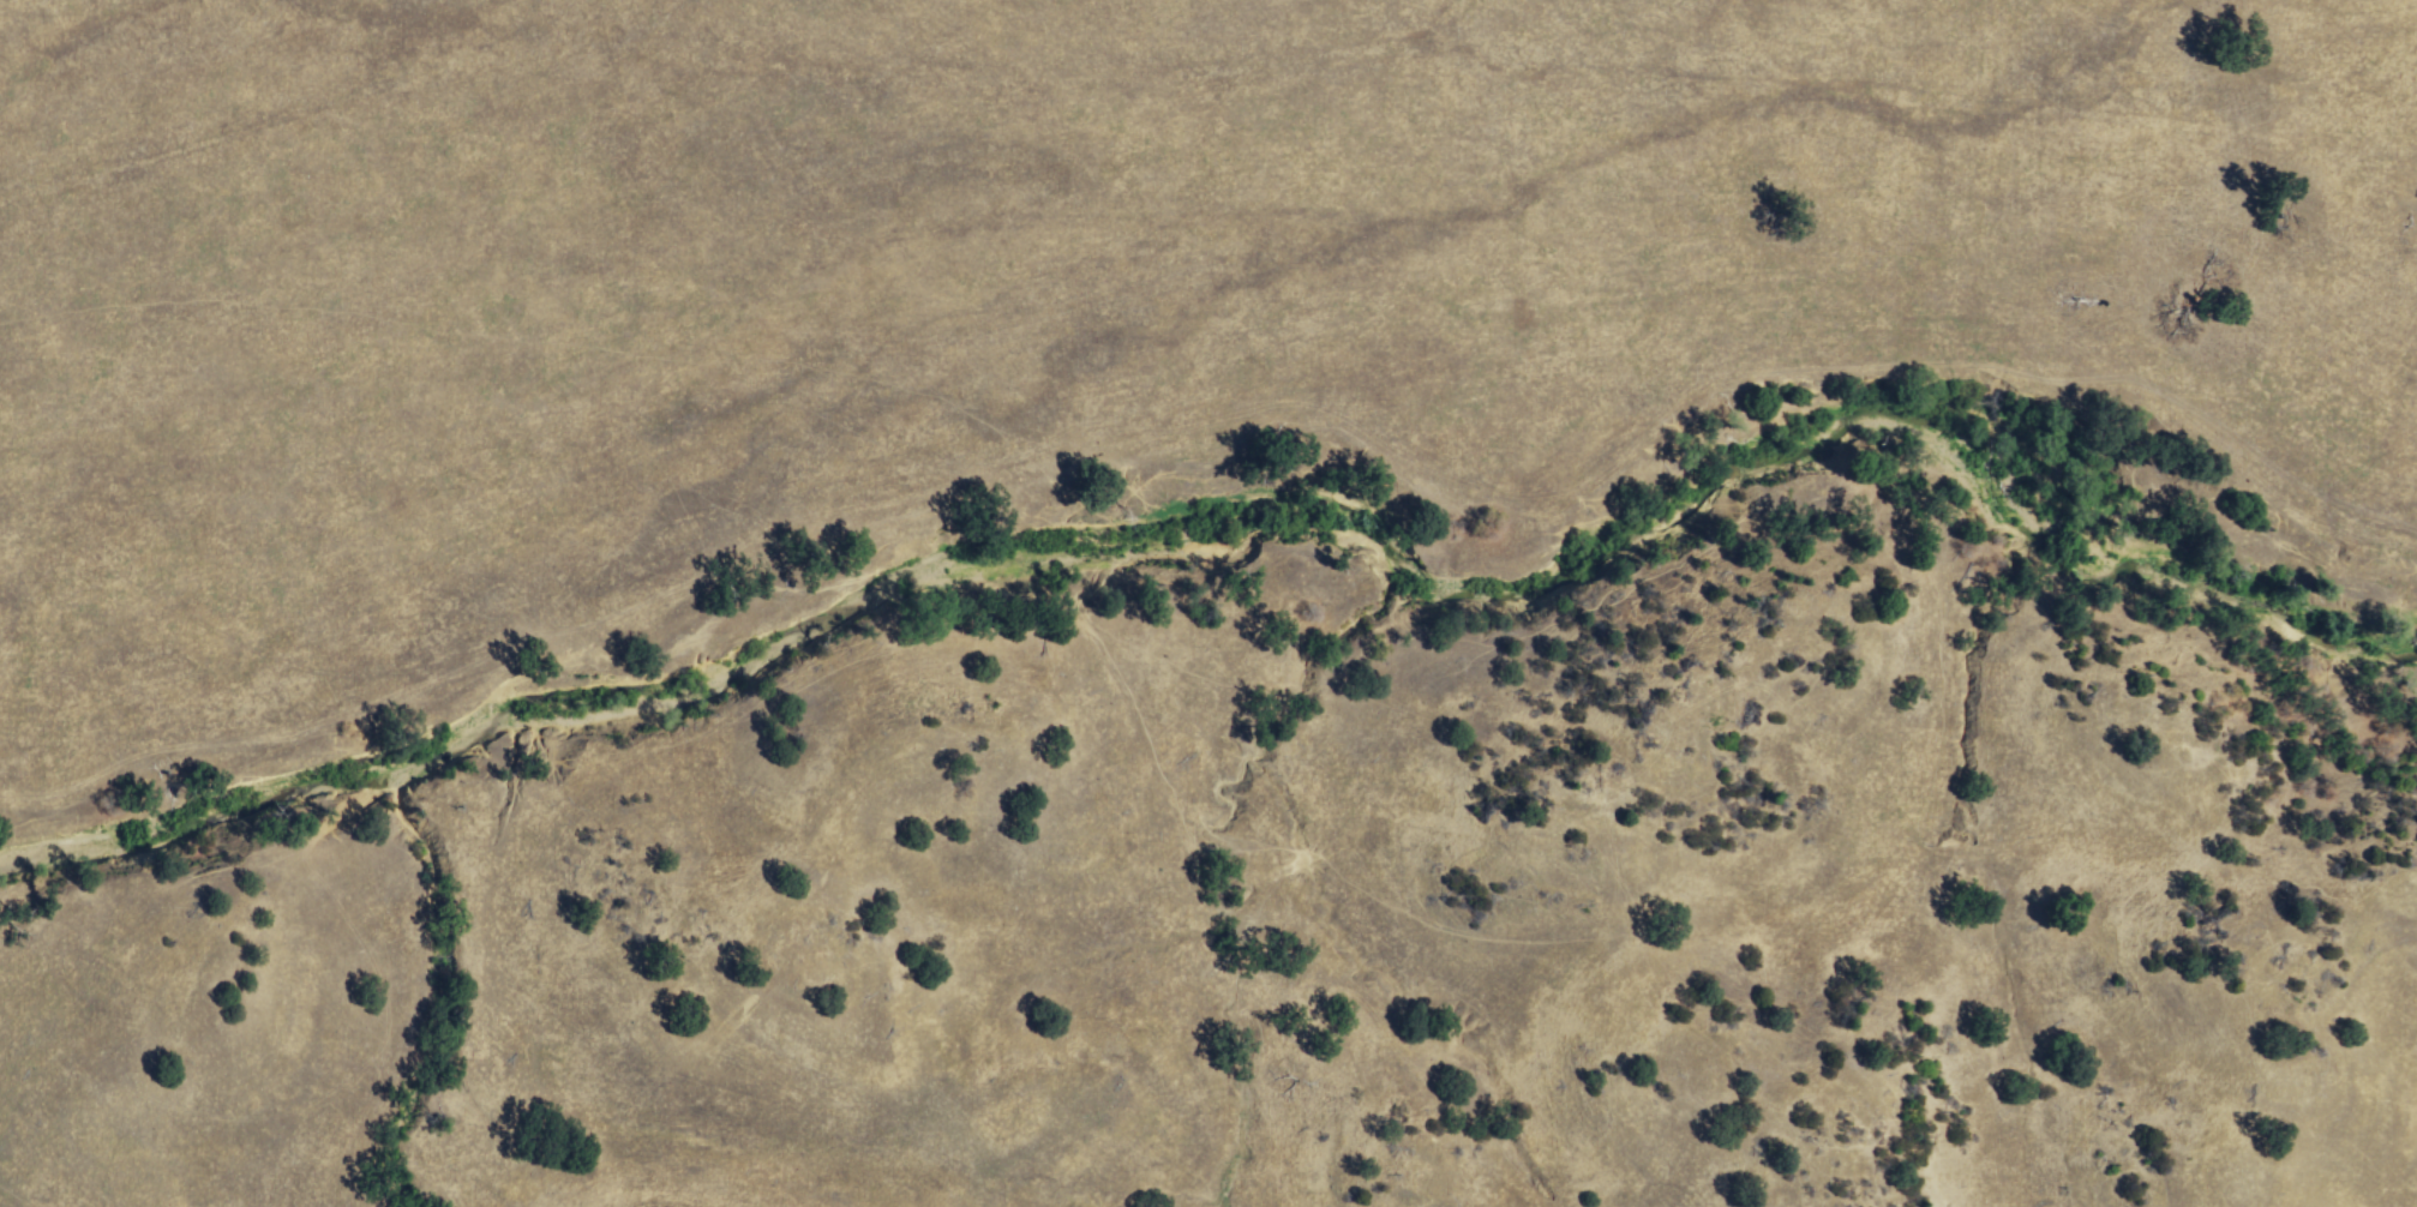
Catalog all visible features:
river: (1431, 600)
river: (202, 819)

